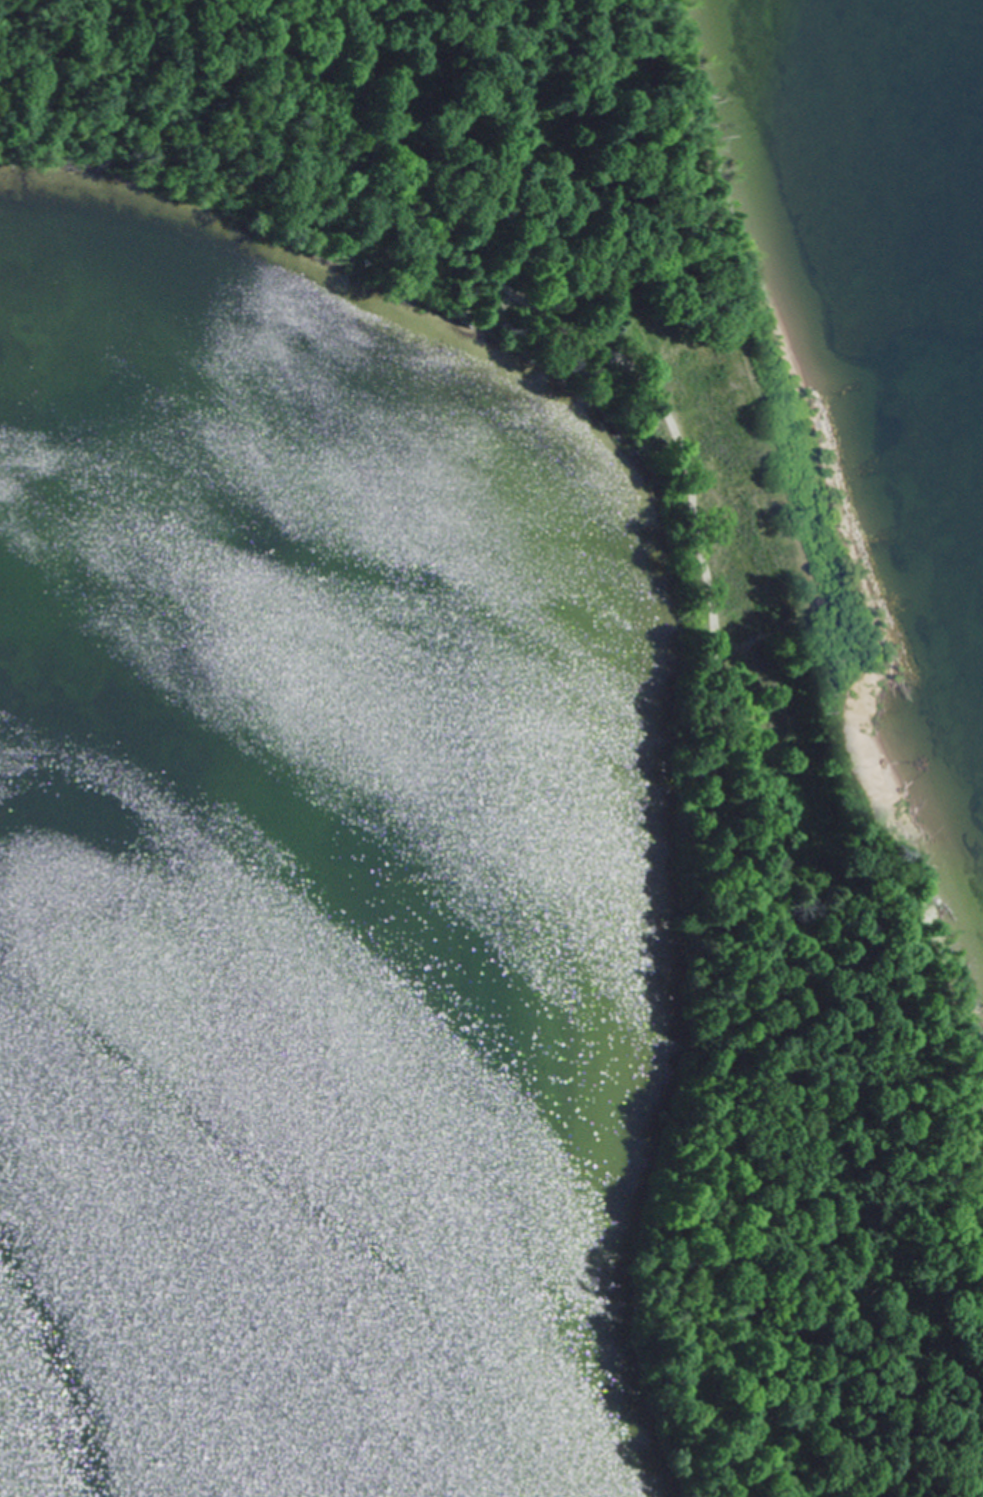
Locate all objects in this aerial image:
road: (195, 78)
building: (741, 497)
building: (735, 617)
road: (713, 685)
building: (779, 717)

